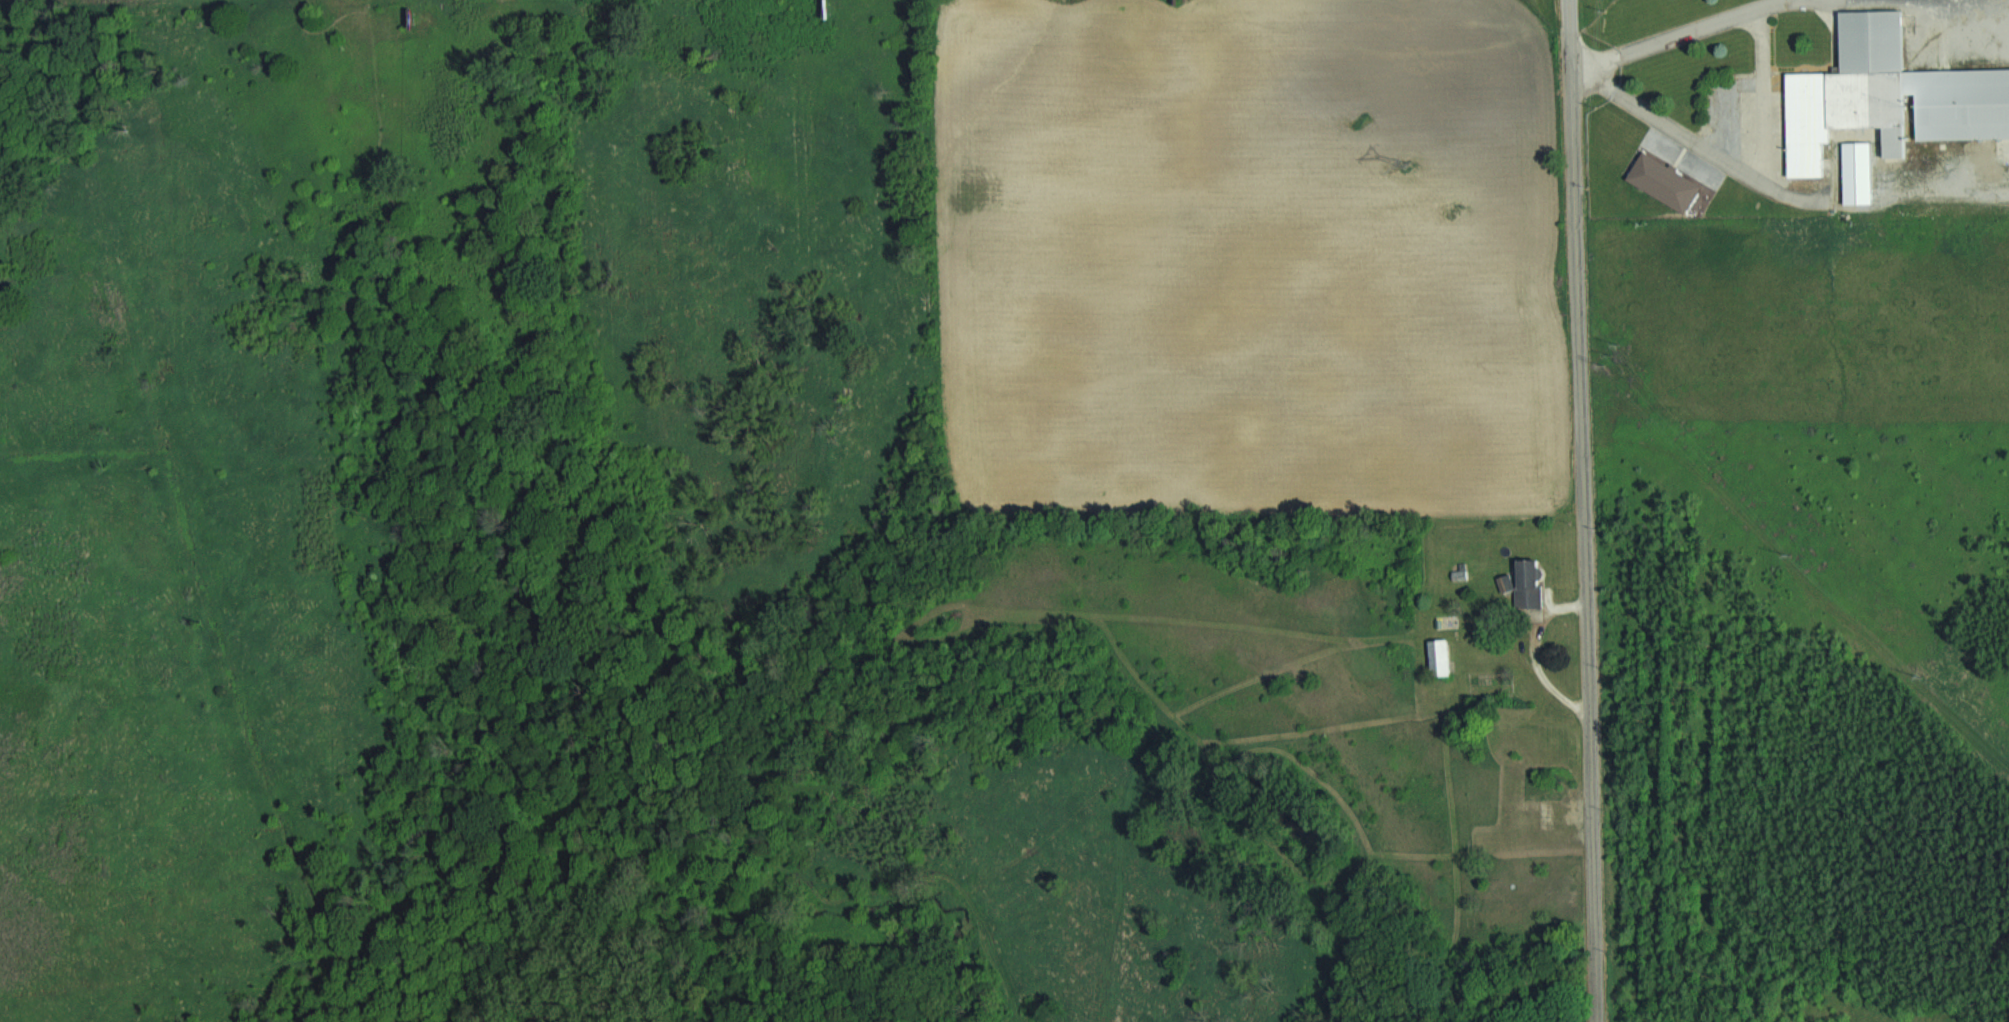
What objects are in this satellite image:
building: (1884, 96)
power tower: (1407, 162)
power tower: (1615, 356)
road: (1579, 510)
building: (1534, 584)
building: (1451, 621)
building: (1444, 655)

